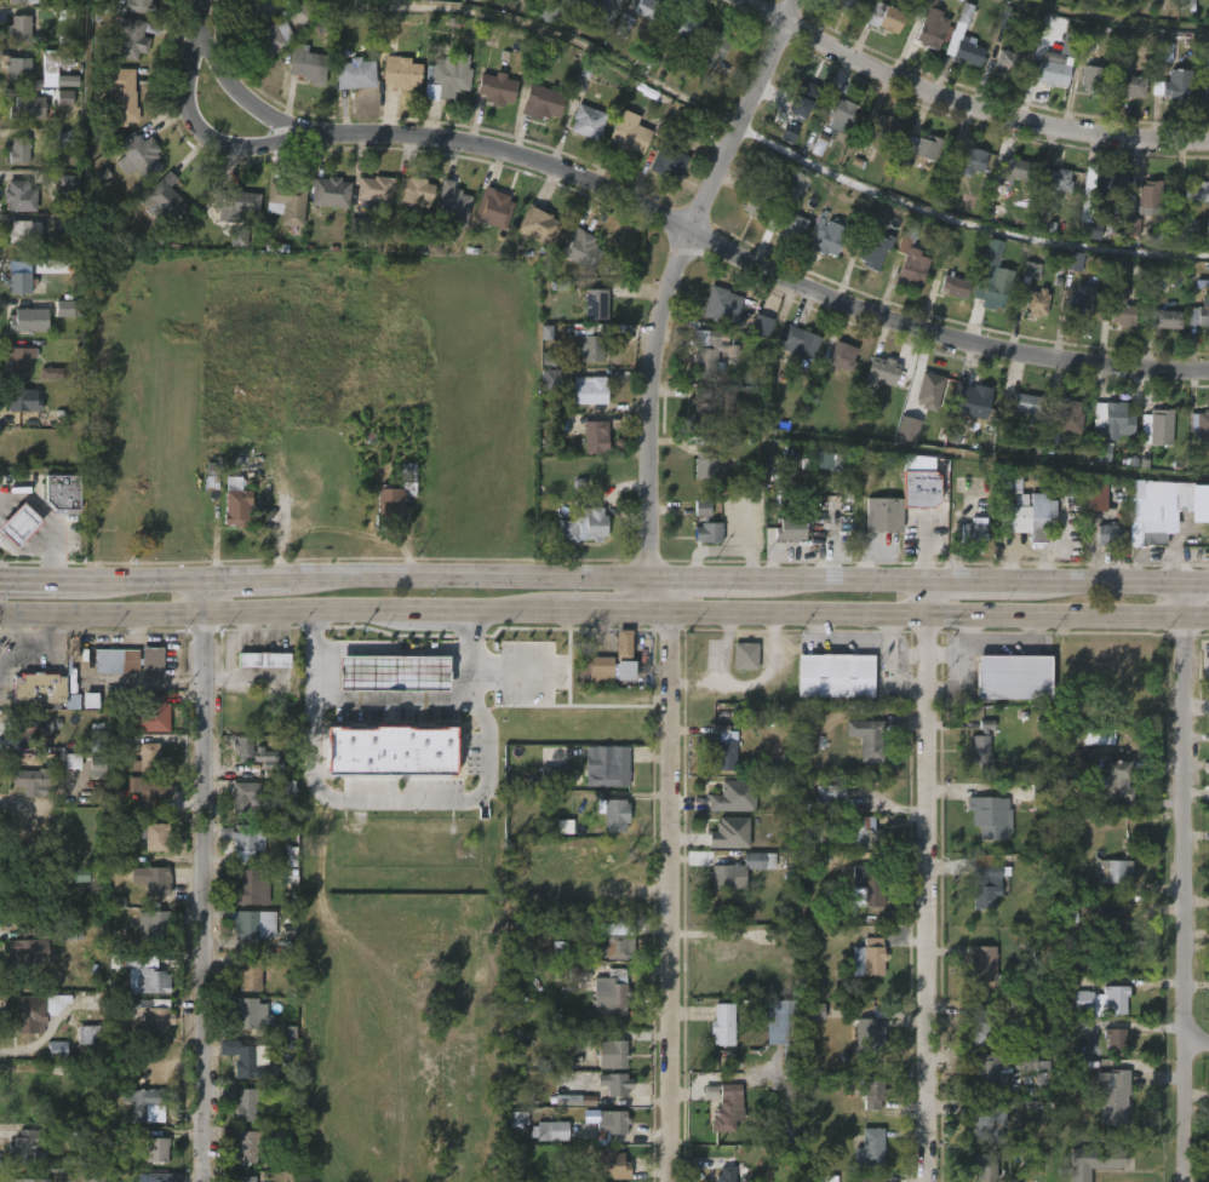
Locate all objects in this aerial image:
building: (23, 0)
building: (602, 4)
building: (847, 4)
building: (141, 6)
building: (548, 11)
building: (300, 15)
building: (886, 17)
building: (623, 21)
building: (934, 24)
building: (17, 25)
road: (202, 25)
building: (681, 25)
building: (1071, 28)
building: (269, 35)
building: (132, 38)
building: (1067, 46)
building: (714, 47)
building: (970, 52)
building: (1165, 52)
building: (1012, 61)
building: (306, 64)
building: (19, 67)
building: (57, 69)
building: (399, 71)
building: (1045, 73)
building: (354, 75)
building: (449, 75)
building: (1093, 79)
building: (1136, 85)
building: (1174, 86)
building: (1202, 86)
building: (495, 87)
building: (121, 93)
building: (808, 97)
building: (64, 98)
building: (542, 102)
road: (972, 102)
building: (24, 108)
building: (838, 114)
building: (585, 122)
building: (886, 128)
building: (689, 130)
building: (628, 133)
road: (202, 134)
building: (64, 139)
building: (923, 148)
building: (19, 149)
building: (139, 154)
building: (970, 157)
building: (670, 159)
building: (1015, 166)
building: (1059, 179)
building: (69, 183)
building: (1100, 184)
building: (328, 191)
building: (372, 191)
building: (21, 195)
building: (409, 195)
building: (1153, 197)
building: (159, 201)
building: (236, 202)
building: (286, 203)
building: (449, 206)
building: (1182, 206)
building: (492, 207)
building: (757, 207)
building: (790, 223)
building: (538, 224)
building: (356, 226)
building: (1133, 228)
building: (27, 233)
building: (1207, 234)
building: (826, 236)
building: (237, 237)
road: (694, 239)
building: (580, 249)
building: (873, 252)
building: (1075, 262)
building: (1121, 265)
building: (913, 270)
building: (19, 281)
road: (684, 281)
building: (955, 286)
building: (992, 287)
building: (1035, 303)
building: (1081, 303)
building: (595, 304)
building: (726, 305)
building: (1121, 306)
building: (64, 309)
building: (1197, 316)
building: (30, 319)
building: (1163, 319)
building: (546, 333)
building: (592, 340)
building: (797, 342)
building: (706, 351)
building: (842, 357)
building: (549, 360)
building: (17, 361)
building: (879, 372)
building: (55, 373)
building: (549, 379)
building: (933, 386)
building: (589, 390)
building: (251, 396)
building: (976, 396)
building: (25, 400)
building: (1027, 407)
building: (1113, 414)
building: (704, 415)
building: (1068, 417)
building: (1201, 420)
building: (558, 425)
building: (1159, 426)
building: (907, 430)
building: (595, 435)
building: (1050, 440)
building: (1101, 453)
building: (824, 460)
building: (709, 465)
building: (408, 480)
building: (919, 481)
building: (58, 493)
building: (1094, 493)
building: (235, 503)
building: (394, 505)
building: (1020, 507)
building: (1150, 511)
building: (883, 516)
road: (51, 521)
building: (592, 524)
building: (705, 524)
building: (16, 526)
building: (924, 529)
building: (789, 530)
building: (976, 532)
building: (1113, 534)
road: (24, 552)
road: (464, 576)
road: (838, 578)
road: (695, 579)
road: (979, 579)
road: (45, 580)
road: (246, 580)
road: (148, 581)
road: (1108, 581)
road: (1198, 583)
road: (655, 593)
road: (613, 609)
road: (202, 610)
road: (437, 610)
road: (515, 610)
road: (938, 615)
road: (390, 645)
building: (744, 655)
building: (621, 656)
building: (127, 660)
building: (267, 660)
building: (597, 669)
road: (509, 670)
building: (393, 673)
building: (838, 676)
building: (1012, 676)
building: (41, 692)
road: (1208, 698)
road: (390, 699)
road: (1208, 704)
building: (154, 715)
building: (33, 727)
building: (1099, 736)
building: (870, 739)
building: (98, 741)
building: (723, 747)
building: (985, 747)
building: (253, 751)
building: (391, 751)
building: (151, 759)
building: (73, 762)
building: (607, 765)
building: (97, 771)
building: (551, 776)
building: (33, 781)
building: (1118, 786)
building: (155, 788)
building: (832, 793)
building: (735, 796)
building: (1041, 796)
road: (403, 798)
building: (236, 803)
building: (617, 811)
building: (991, 816)
building: (812, 830)
building: (728, 833)
building: (864, 833)
building: (253, 836)
building: (155, 837)
building: (125, 855)
building: (617, 868)
building: (1113, 870)
building: (735, 871)
building: (78, 876)
road: (926, 879)
building: (156, 880)
road: (207, 880)
building: (990, 880)
road: (1186, 882)
building: (870, 886)
building: (248, 888)
road: (671, 895)
building: (30, 897)
building: (1071, 913)
building: (251, 923)
building: (156, 926)
building: (1118, 929)
building: (613, 942)
building: (29, 946)
building: (729, 949)
building: (875, 956)
building: (981, 964)
building: (143, 972)
building: (579, 972)
building: (250, 975)
building: (612, 993)
building: (1119, 999)
building: (1083, 1000)
building: (35, 1011)
building: (815, 1011)
building: (150, 1015)
building: (252, 1015)
building: (984, 1025)
building: (724, 1026)
building: (90, 1031)
building: (781, 1033)
building: (871, 1035)
building: (1118, 1040)
road: (1197, 1044)
building: (57, 1050)
building: (612, 1054)
building: (250, 1065)
building: (1036, 1067)
building: (993, 1074)
building: (789, 1079)
building: (614, 1084)
building: (710, 1094)
building: (875, 1095)
building: (1118, 1100)
building: (577, 1101)
building: (144, 1102)
building: (246, 1103)
building: (727, 1108)
building: (991, 1124)
building: (608, 1125)
building: (555, 1131)
building: (251, 1144)
building: (28, 1146)
building: (157, 1149)
building: (872, 1149)
building: (1096, 1160)
building: (613, 1164)
building: (985, 1169)
building: (94, 1175)
building: (728, 1175)
building: (161, 1177)
building: (818, 1178)
building: (25, 1180)
building: (245, 1180)
building: (870, 1180)

